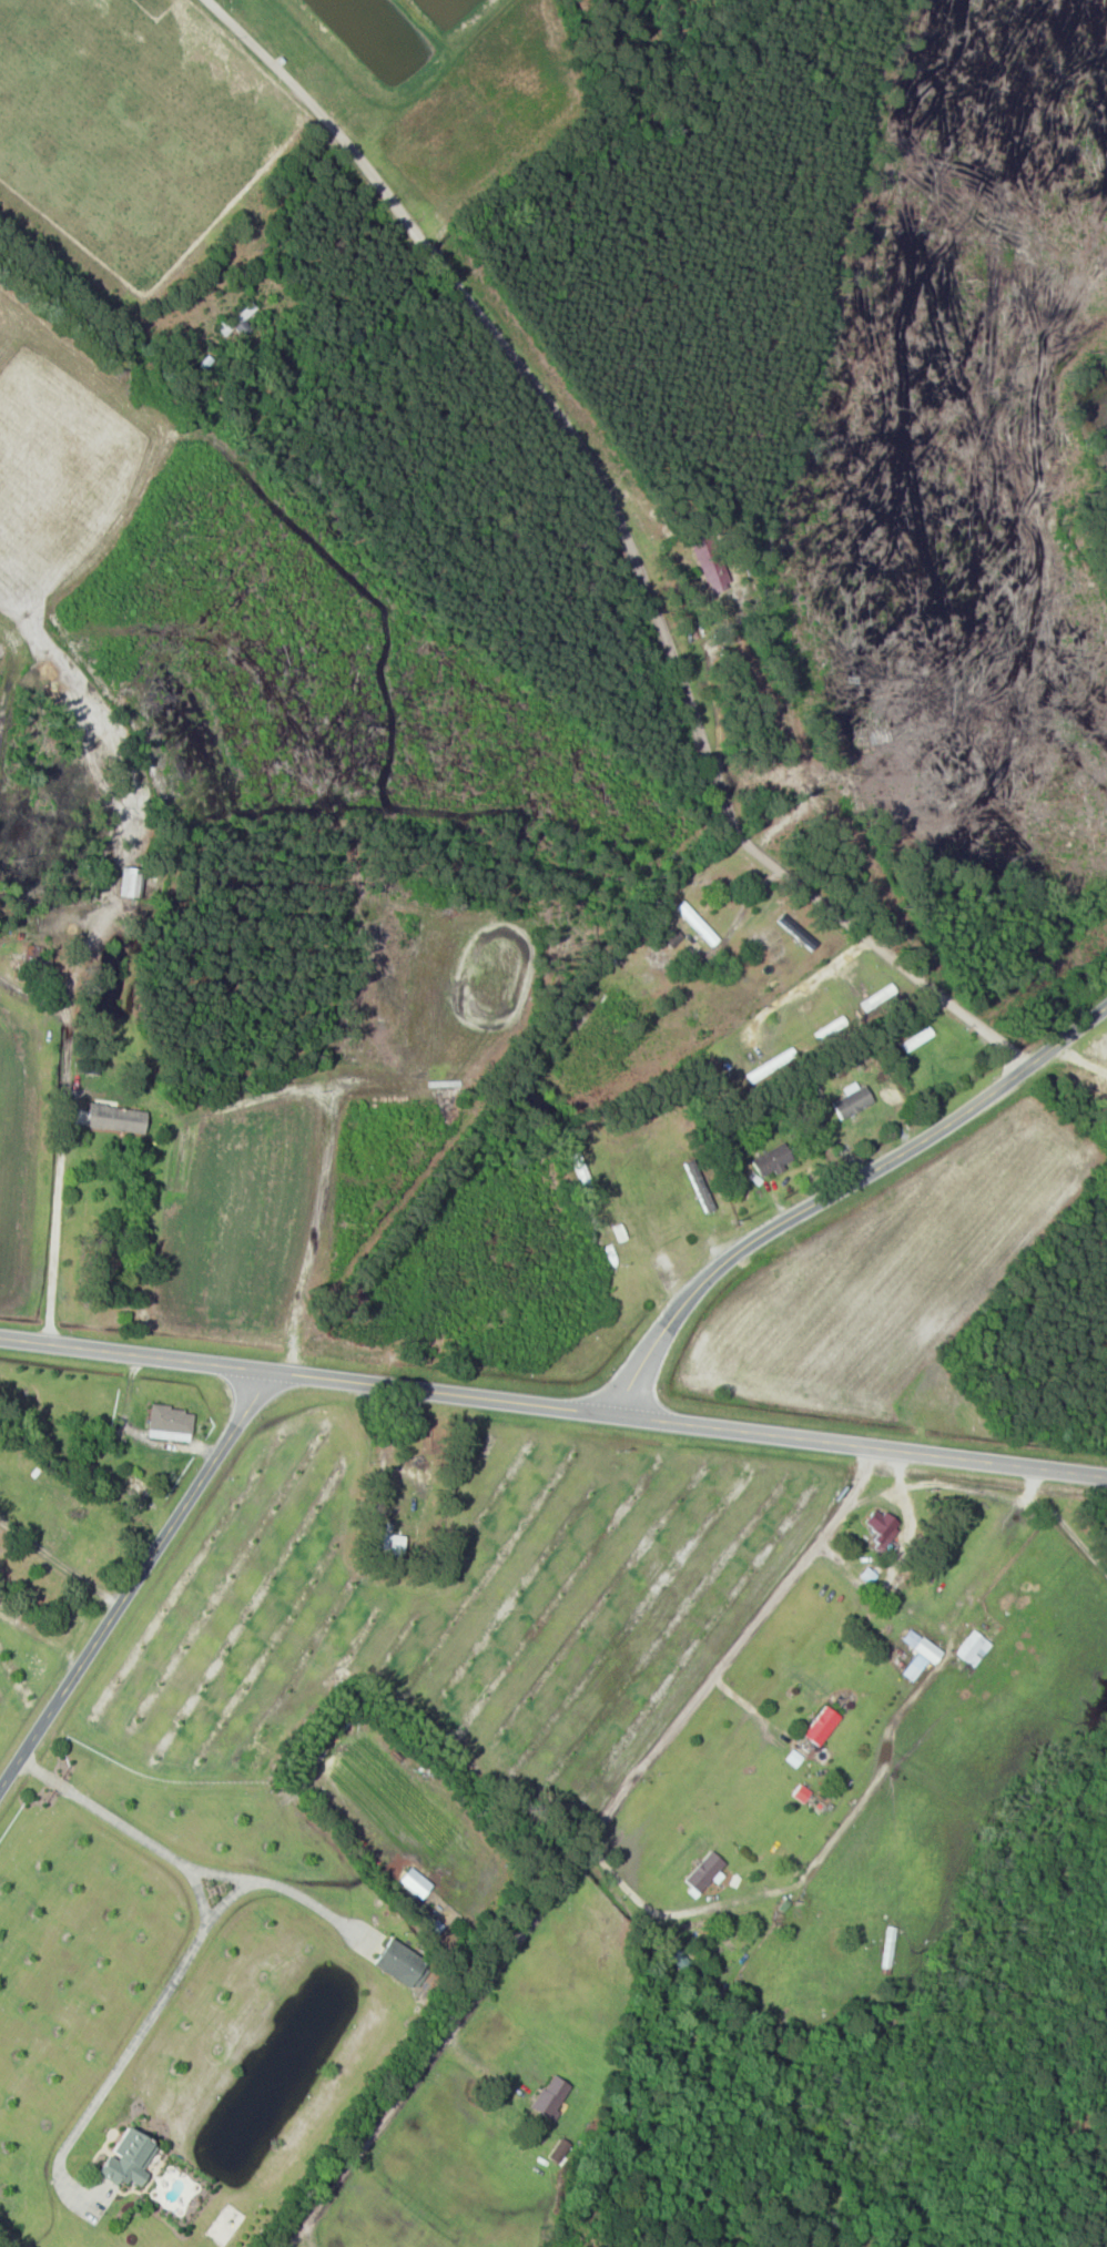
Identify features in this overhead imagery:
building: (241, 319)
road: (624, 539)
building: (709, 560)
building: (129, 881)
building: (877, 997)
building: (915, 1040)
building: (771, 1066)
building: (852, 1101)
building: (115, 1119)
building: (772, 1160)
building: (580, 1175)
road: (841, 1188)
road: (131, 1355)
road: (684, 1422)
building: (170, 1423)
building: (415, 1474)
building: (136, 1491)
road: (1060, 1525)
building: (881, 1526)
building: (389, 1545)
road: (131, 1575)
road: (882, 1594)
building: (59, 1623)
building: (973, 1649)
building: (920, 1654)
building: (822, 1726)
building: (704, 1872)
road: (669, 1913)
building: (887, 1948)
road: (191, 1950)
building: (678, 1958)
building: (399, 1963)
road: (443, 2042)
building: (559, 2152)
building: (129, 2158)

